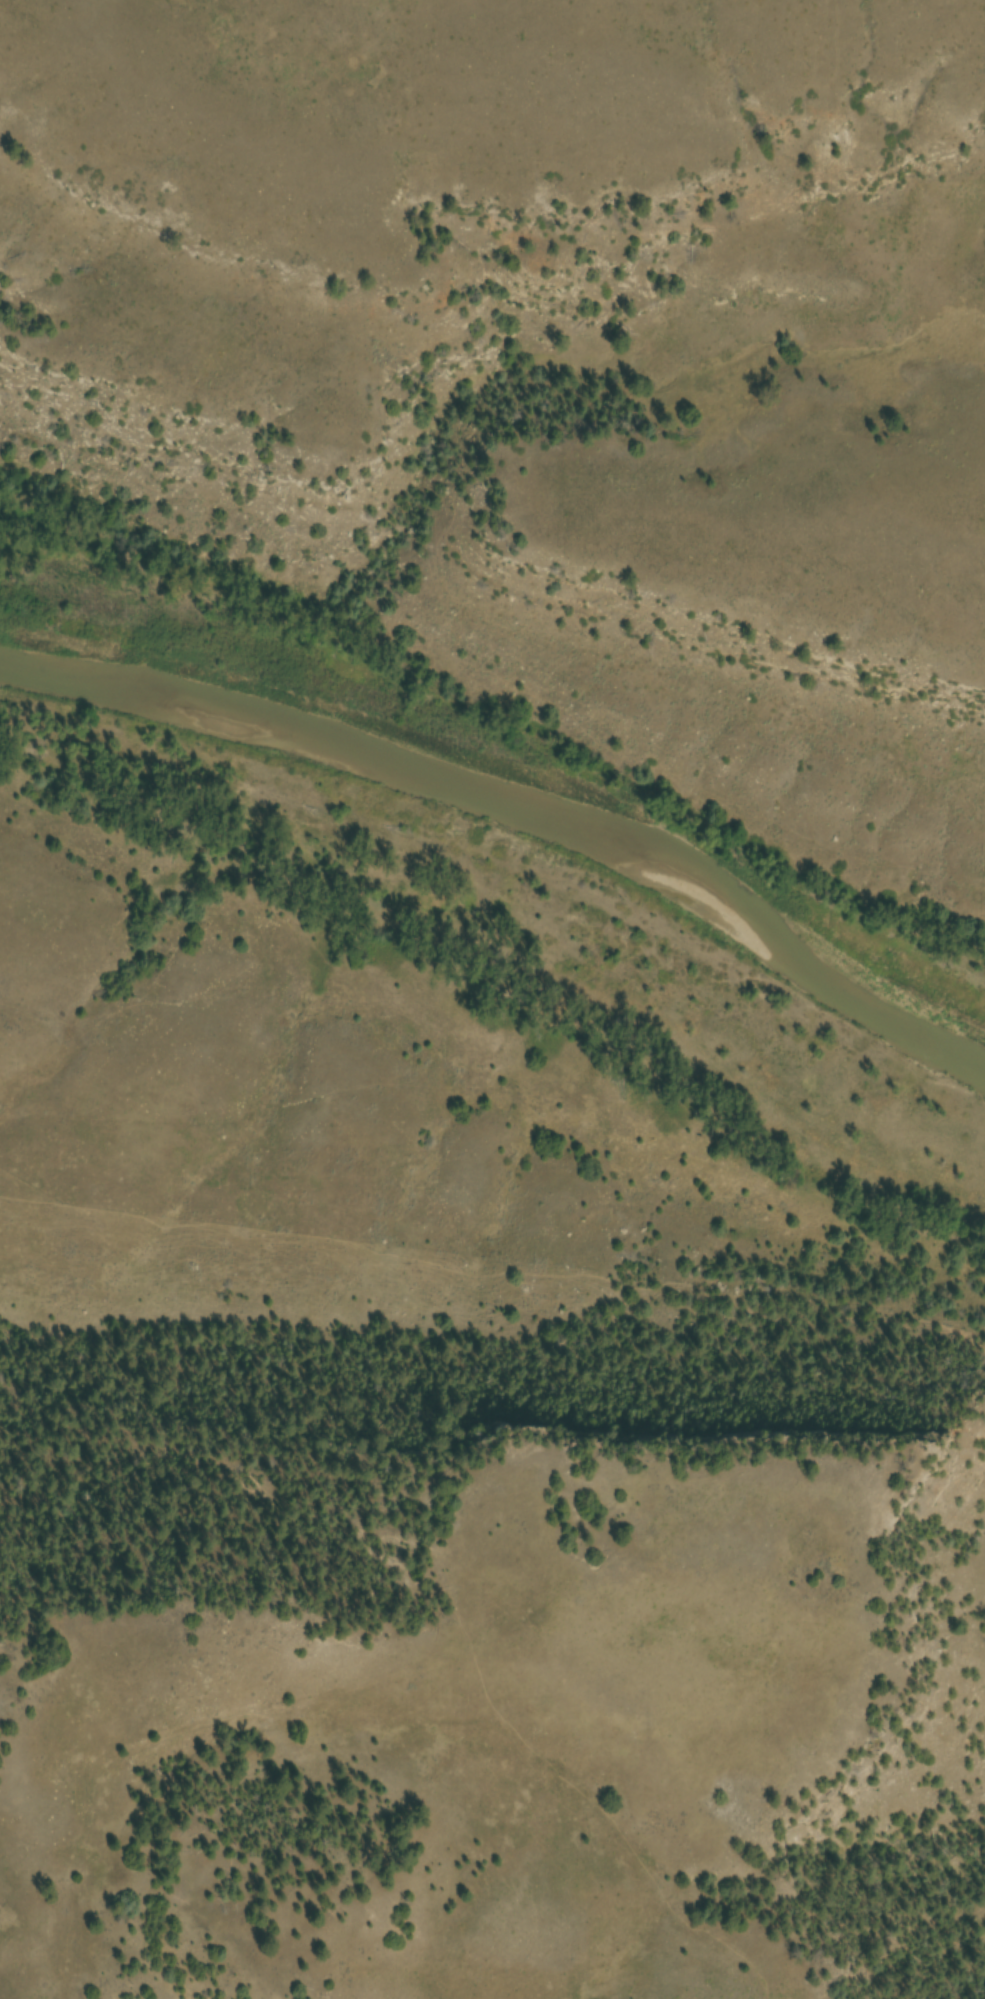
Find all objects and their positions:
river: (503, 814)

